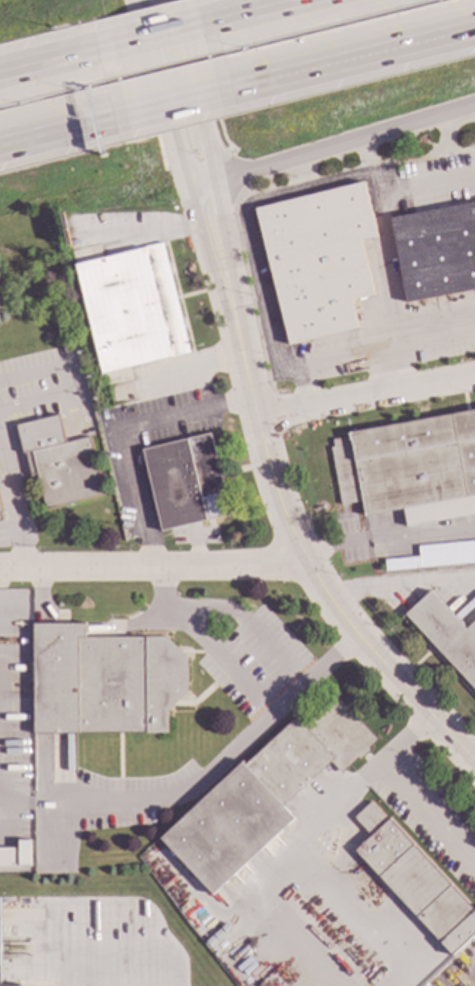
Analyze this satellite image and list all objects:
road: (257, 10)
road: (159, 35)
road: (355, 59)
road: (51, 61)
road: (178, 103)
road: (60, 132)
road: (332, 147)
road: (218, 208)
road: (196, 210)
road: (381, 217)
road: (243, 226)
building: (436, 252)
building: (318, 259)
building: (131, 308)
building: (46, 337)
road: (429, 341)
road: (341, 359)
building: (68, 365)
road: (191, 375)
road: (366, 397)
road: (126, 435)
building: (58, 462)
building: (409, 468)
building: (186, 482)
road: (14, 502)
building: (0, 519)
road: (421, 532)
road: (334, 545)
building: (437, 556)
road: (151, 565)
road: (401, 586)
road: (37, 601)
road: (337, 610)
building: (446, 635)
parking lot: (253, 660)
building: (103, 681)
road: (267, 696)
road: (405, 742)
road: (472, 759)
road: (225, 762)
building: (264, 791)
road: (339, 806)
road: (428, 814)
building: (23, 853)
road: (270, 873)
building: (415, 881)
road: (121, 905)
road: (352, 906)
building: (272, 982)
building: (9, 985)

